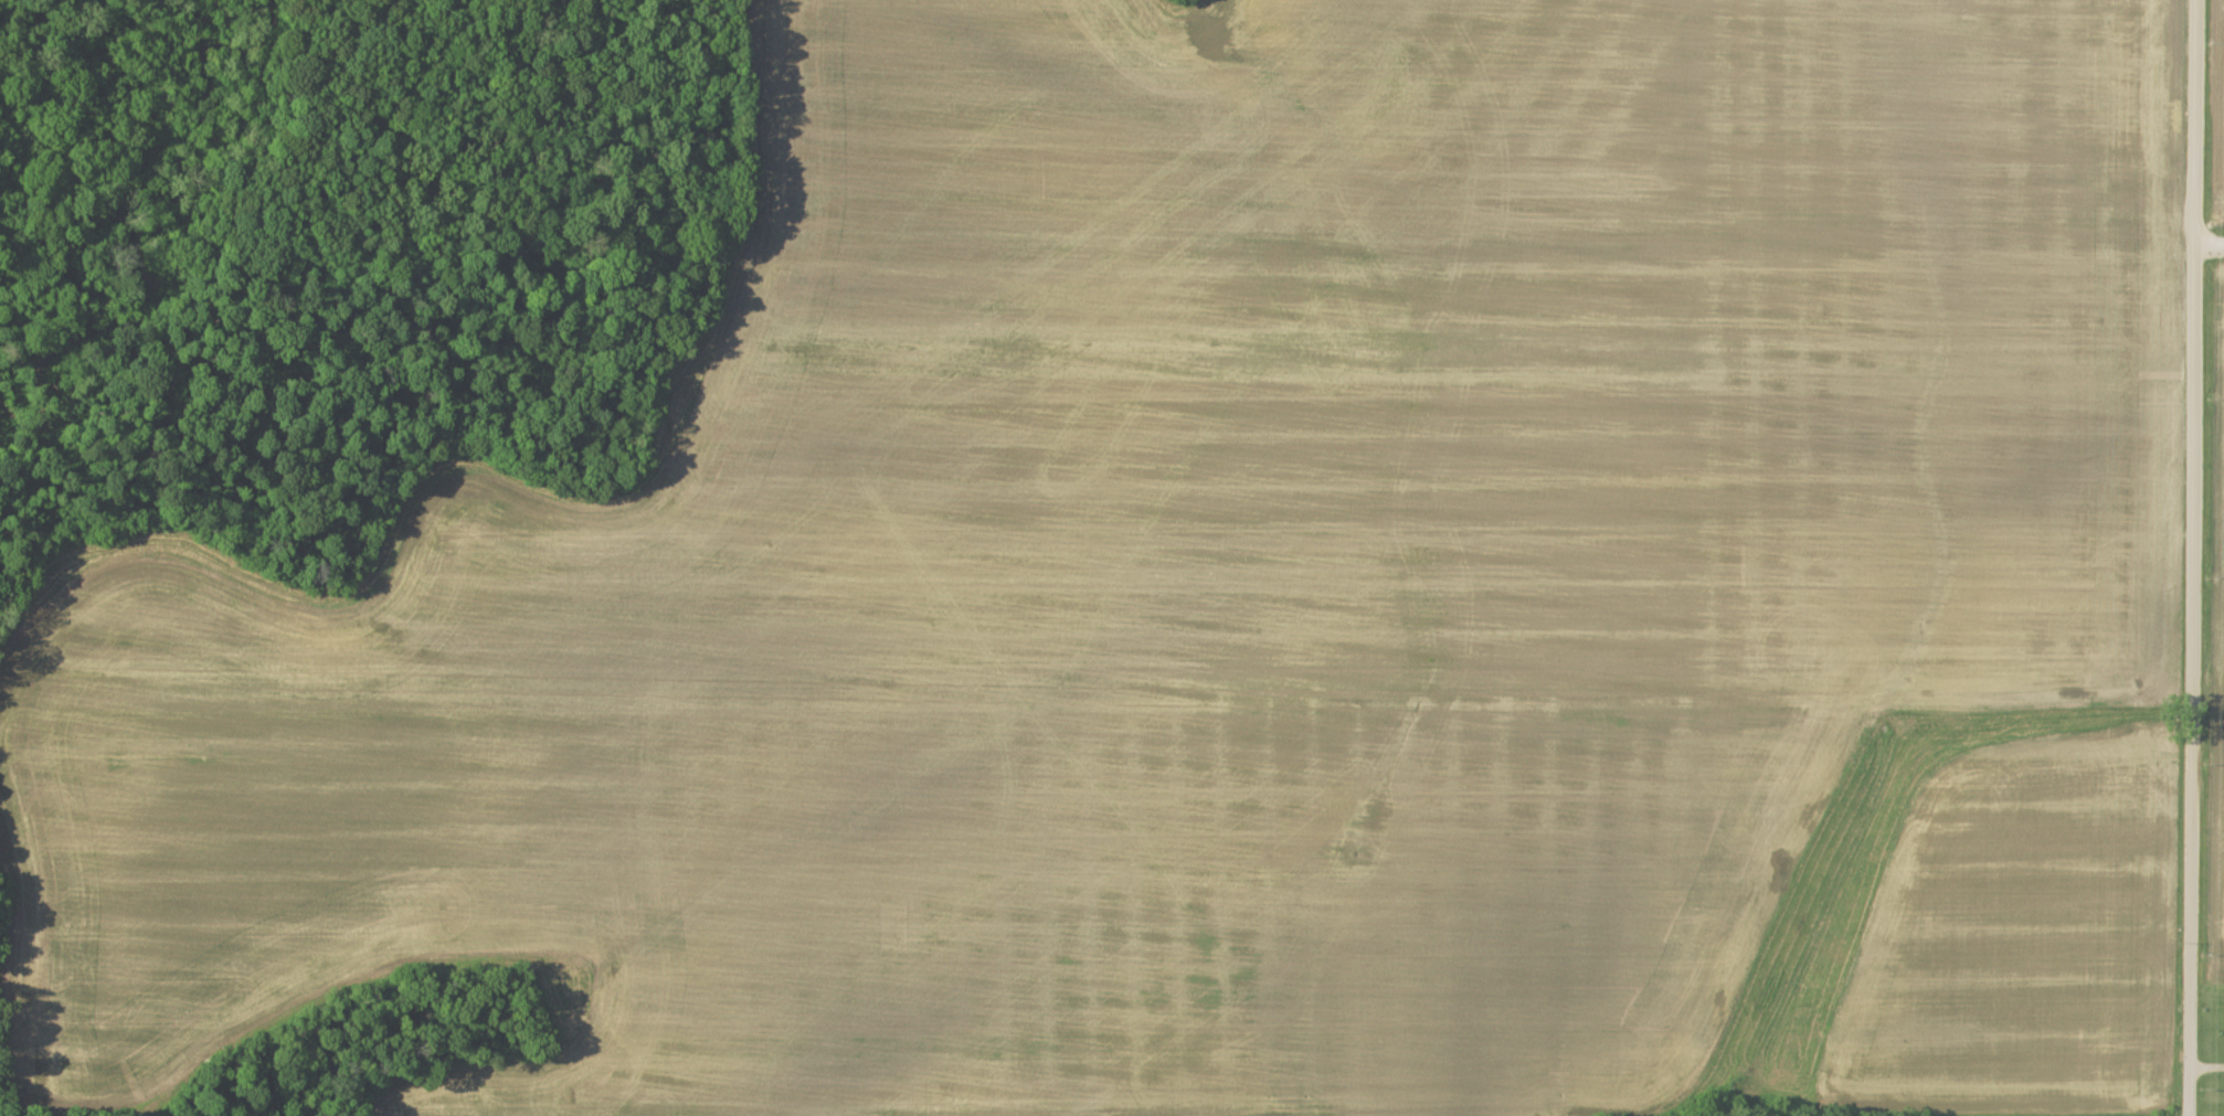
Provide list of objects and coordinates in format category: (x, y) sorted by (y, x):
road: (2211, 245)
road: (2196, 557)

